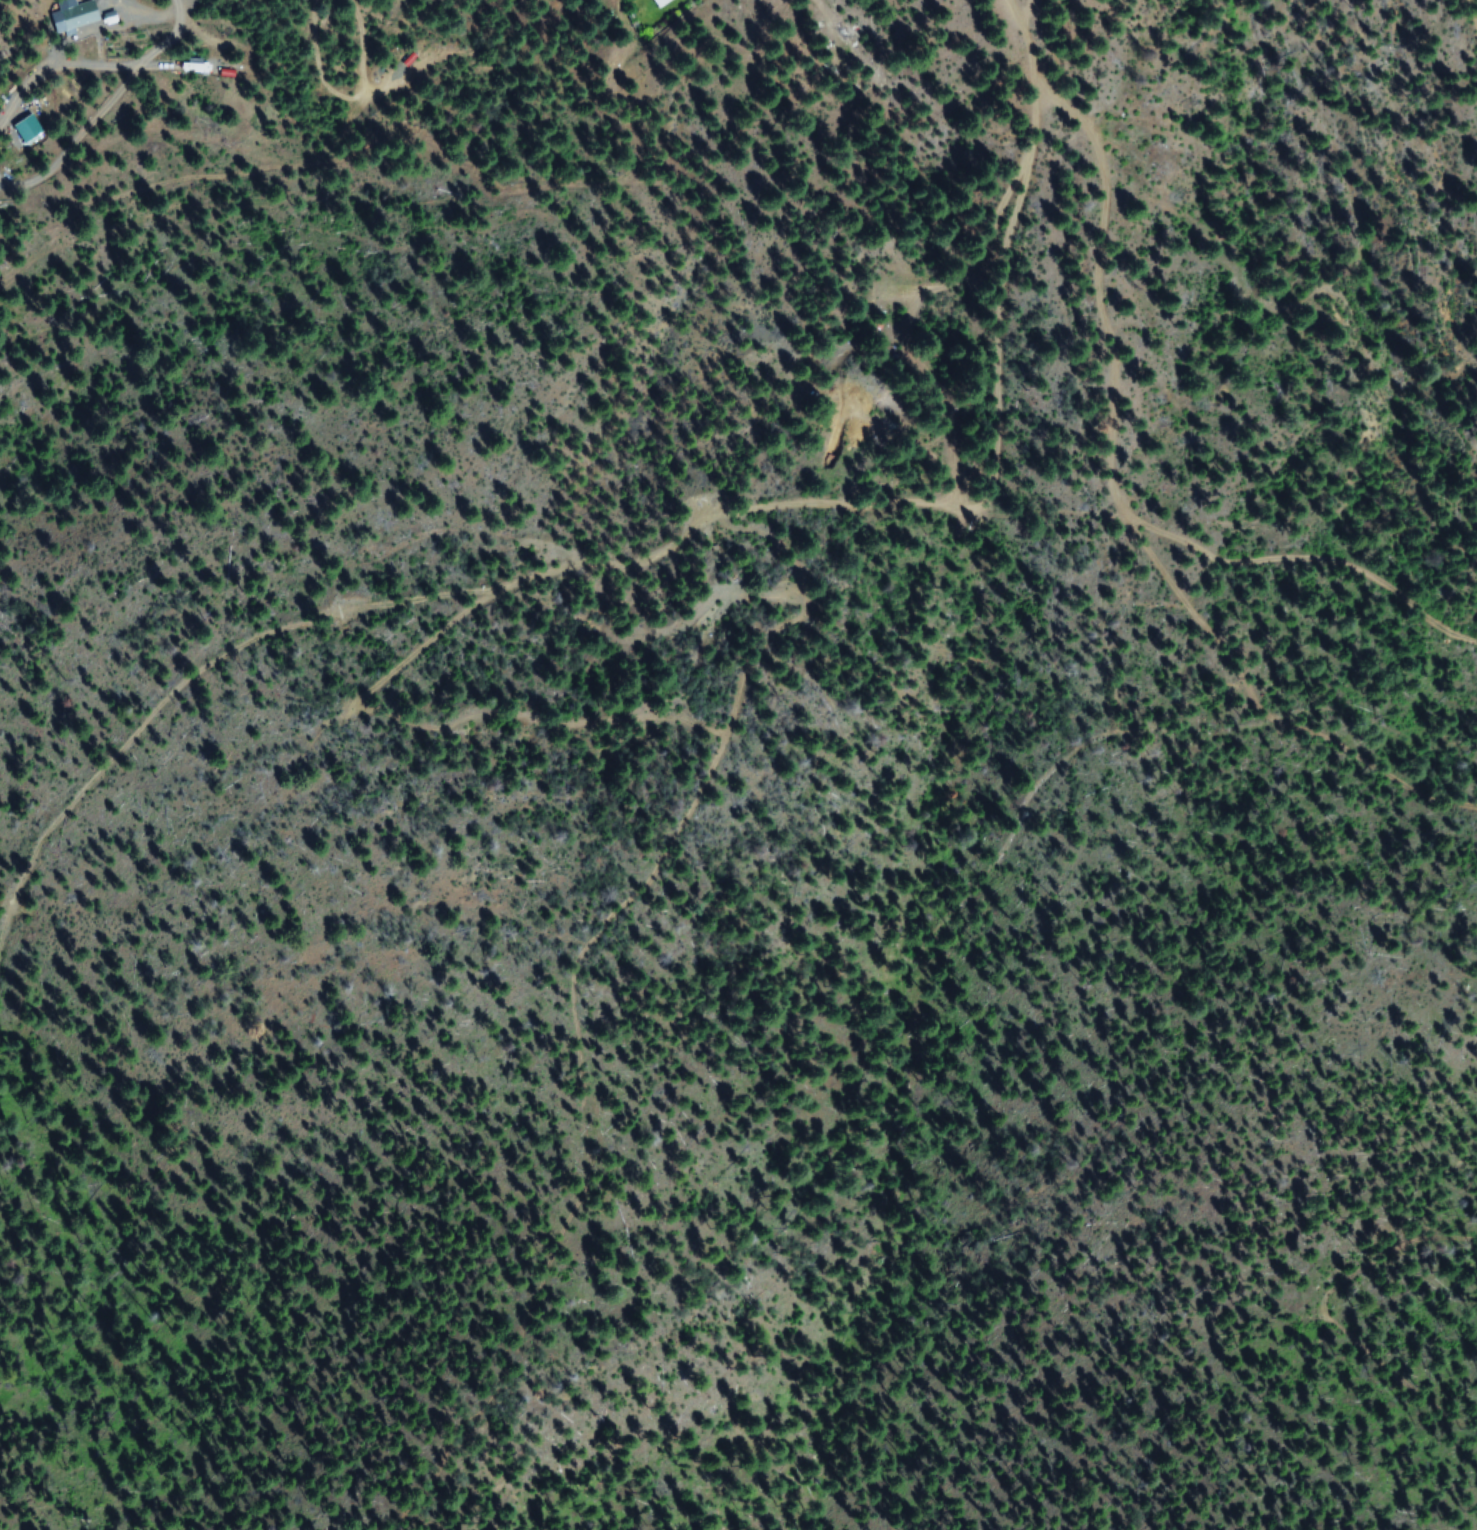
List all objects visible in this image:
building: (658, 2)
road: (1015, 51)
mineshaft: (455, 526)
mineshaft: (581, 604)
mineshaft: (520, 738)
mineshaft: (462, 743)
mineshaft: (472, 884)

